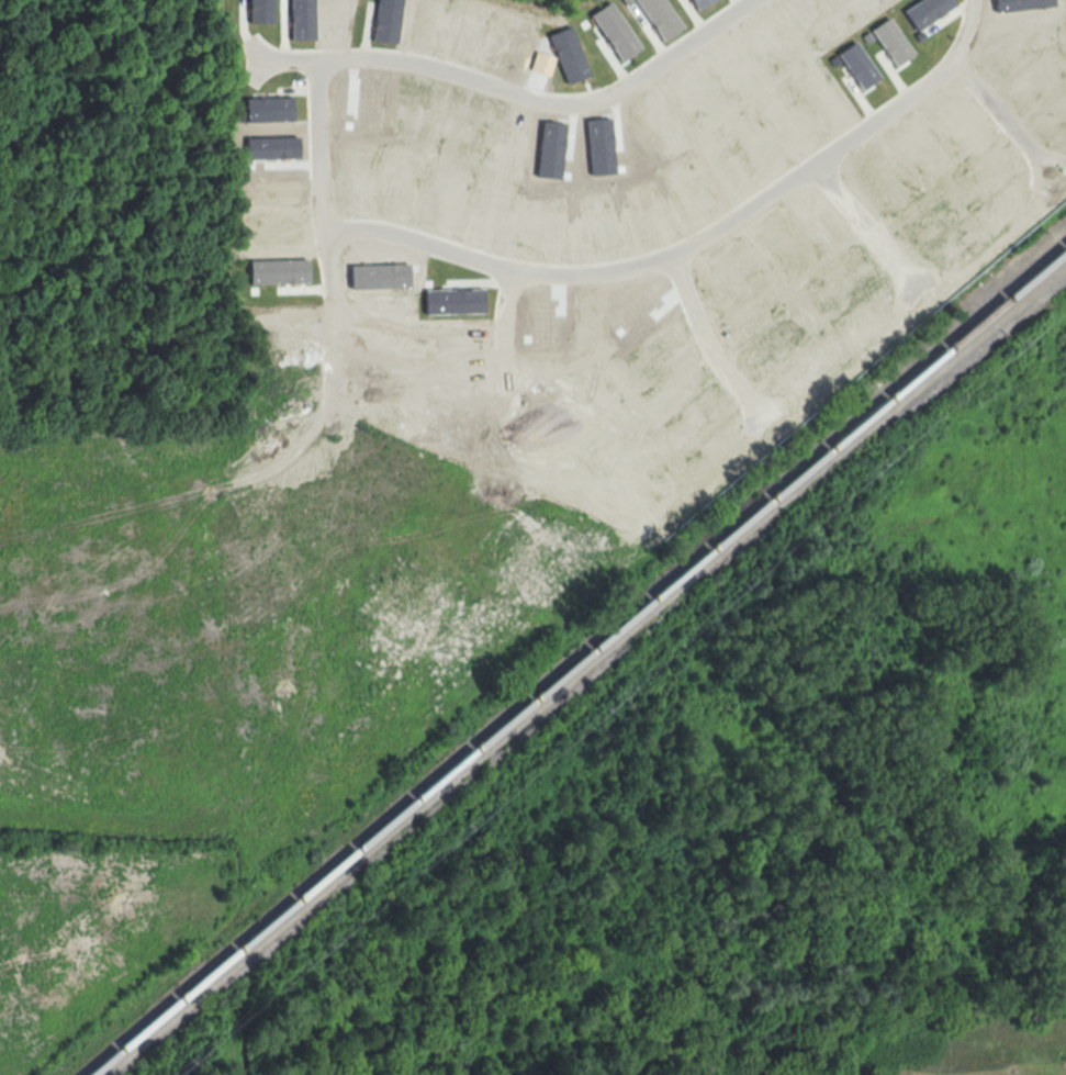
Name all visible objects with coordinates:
building: (699, 3)
building: (1022, 4)
building: (927, 10)
building: (259, 11)
building: (659, 16)
building: (301, 20)
building: (385, 21)
building: (615, 31)
building: (890, 41)
building: (568, 55)
road: (283, 57)
building: (857, 65)
building: (268, 109)
road: (1003, 112)
building: (599, 146)
building: (271, 147)
building: (550, 149)
road: (388, 233)
building: (278, 271)
building: (379, 276)
building: (453, 301)
railway: (580, 663)

